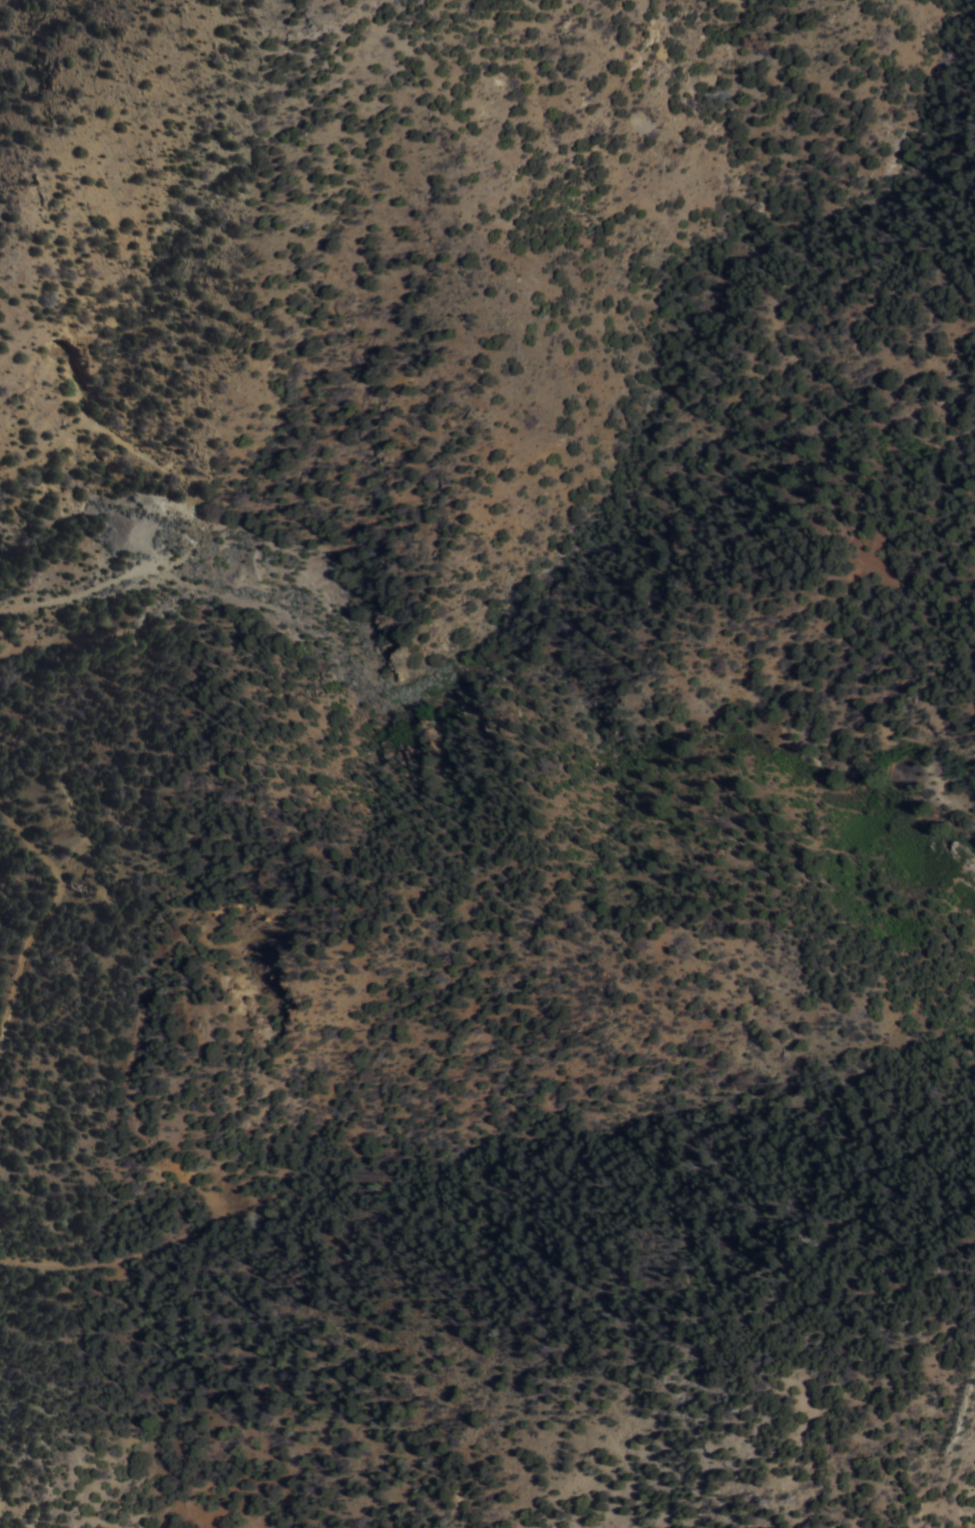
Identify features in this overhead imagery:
mineshaft: (490, 646)
road: (67, 913)
road: (108, 1274)

